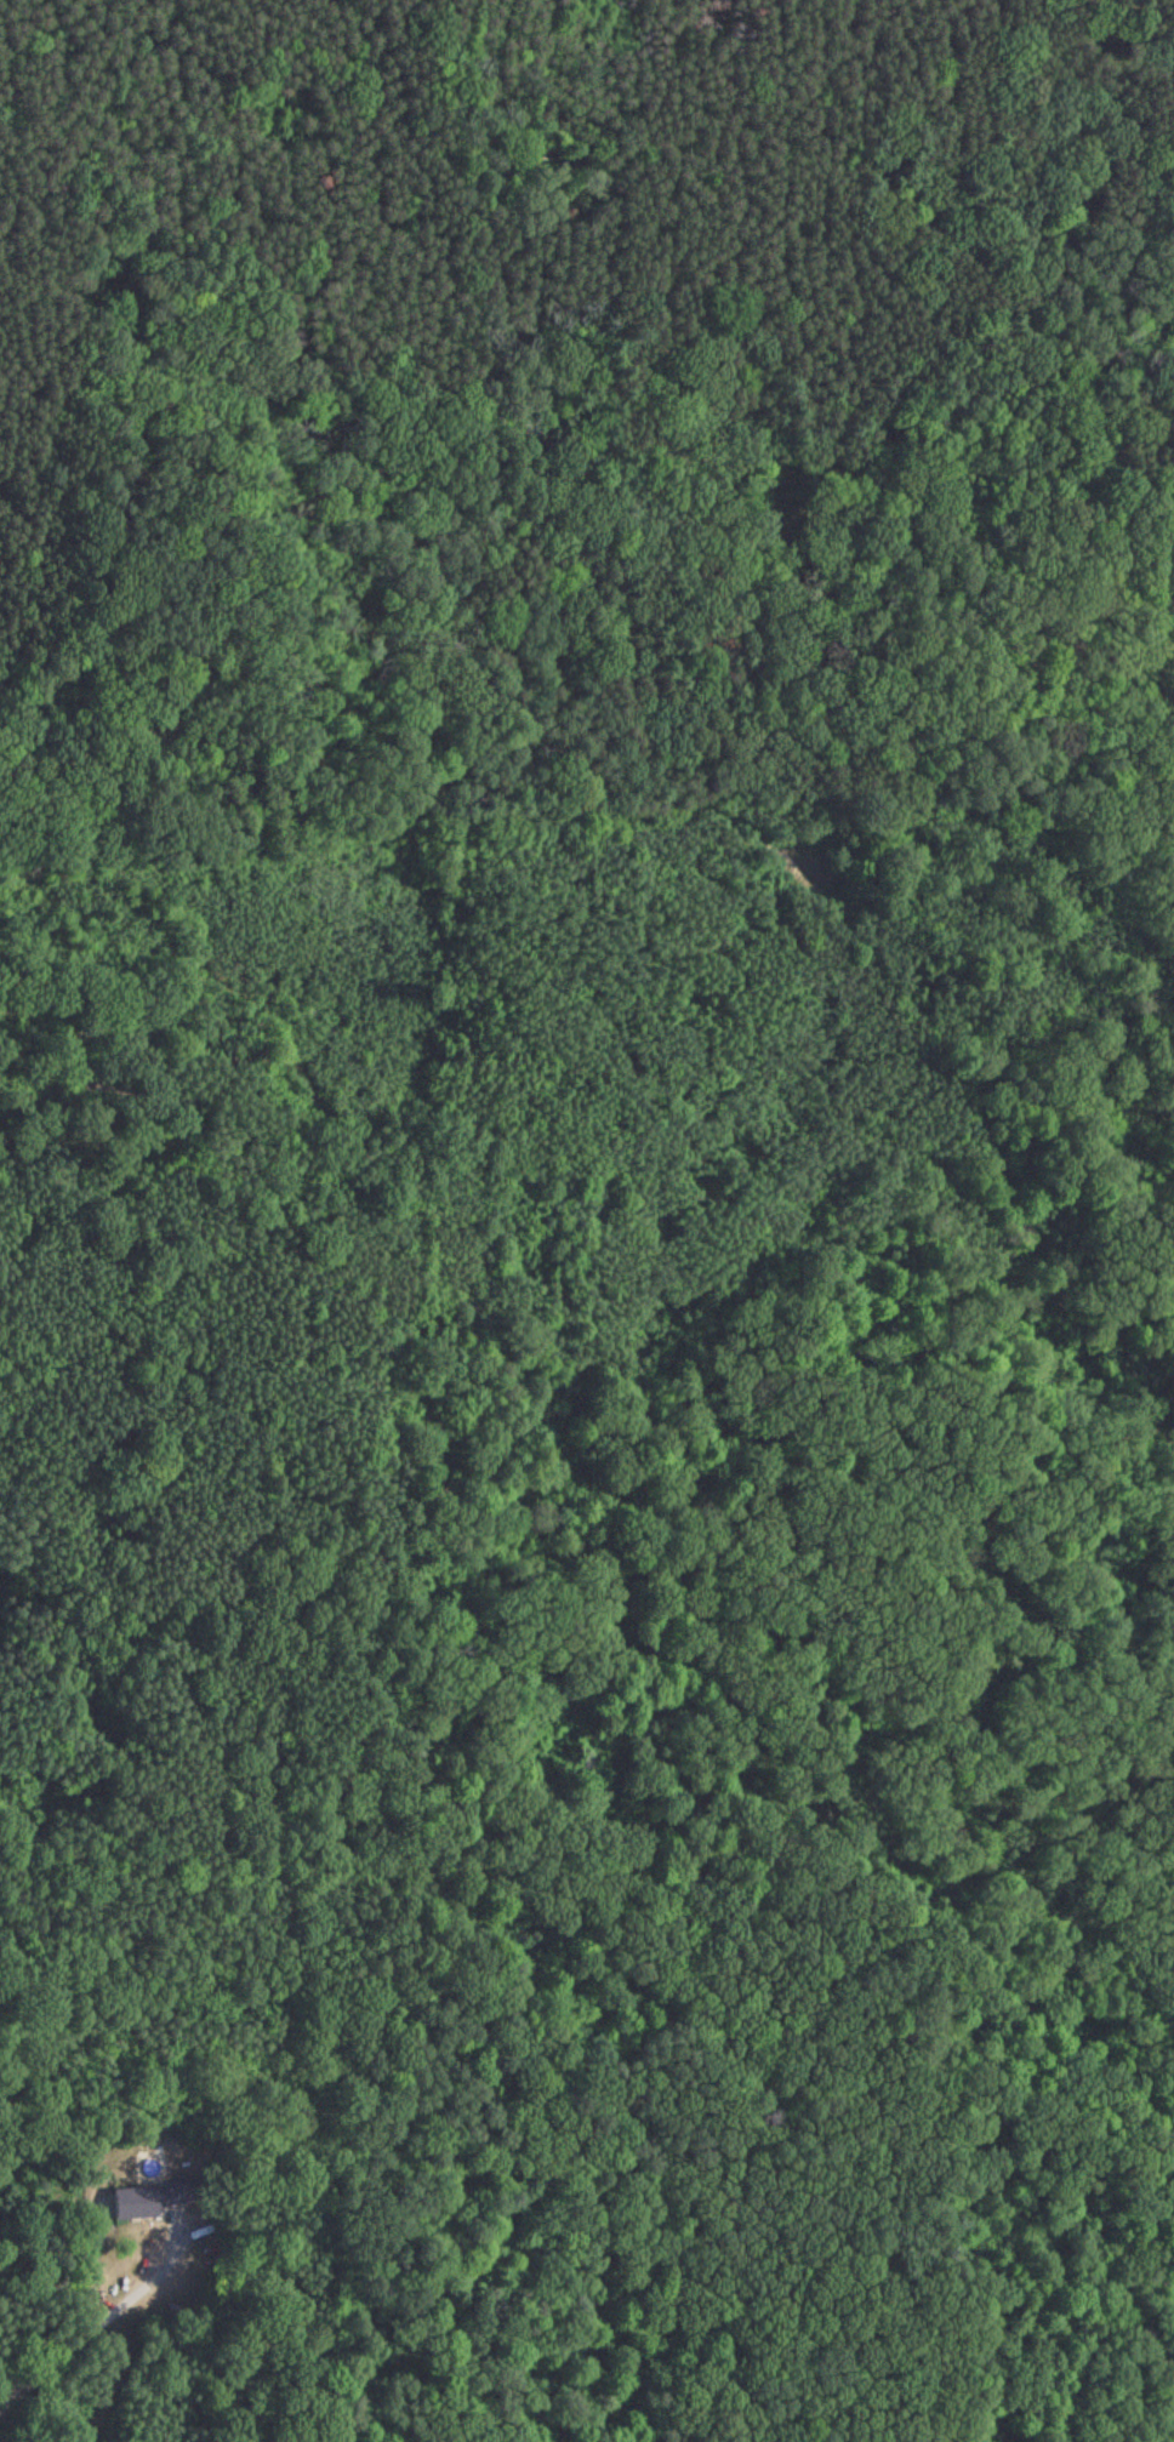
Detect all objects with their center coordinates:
building: (146, 2199)

